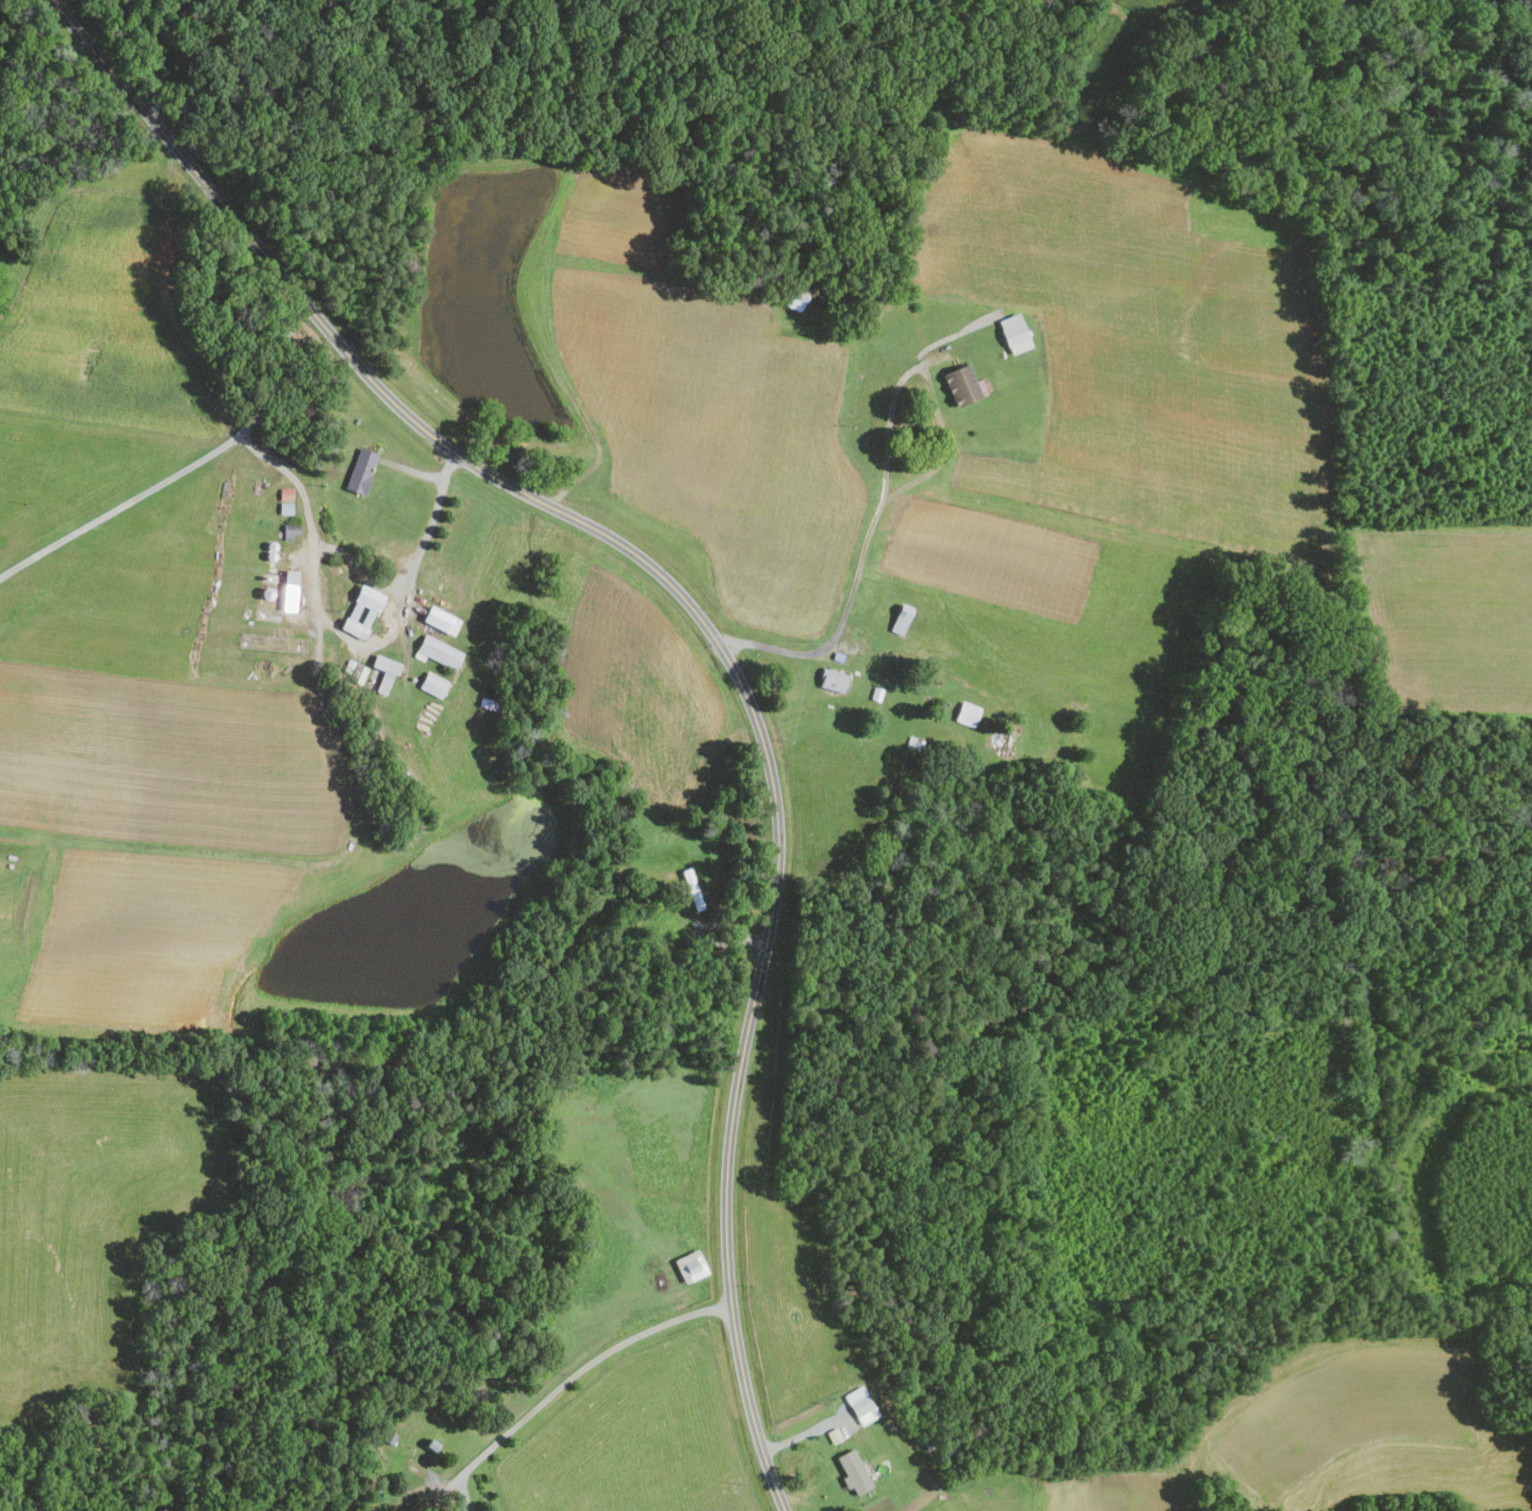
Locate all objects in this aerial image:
building: (1013, 334)
building: (362, 473)
road: (885, 475)
building: (286, 493)
road: (120, 506)
building: (286, 507)
building: (291, 529)
road: (358, 569)
road: (315, 574)
building: (289, 589)
building: (361, 610)
building: (900, 618)
building: (440, 619)
road: (706, 624)
building: (437, 651)
road: (912, 658)
building: (383, 672)
building: (832, 679)
building: (432, 683)
building: (966, 713)
road: (583, 1367)
building: (863, 1409)
road: (808, 1432)
building: (834, 1435)
building: (853, 1471)

